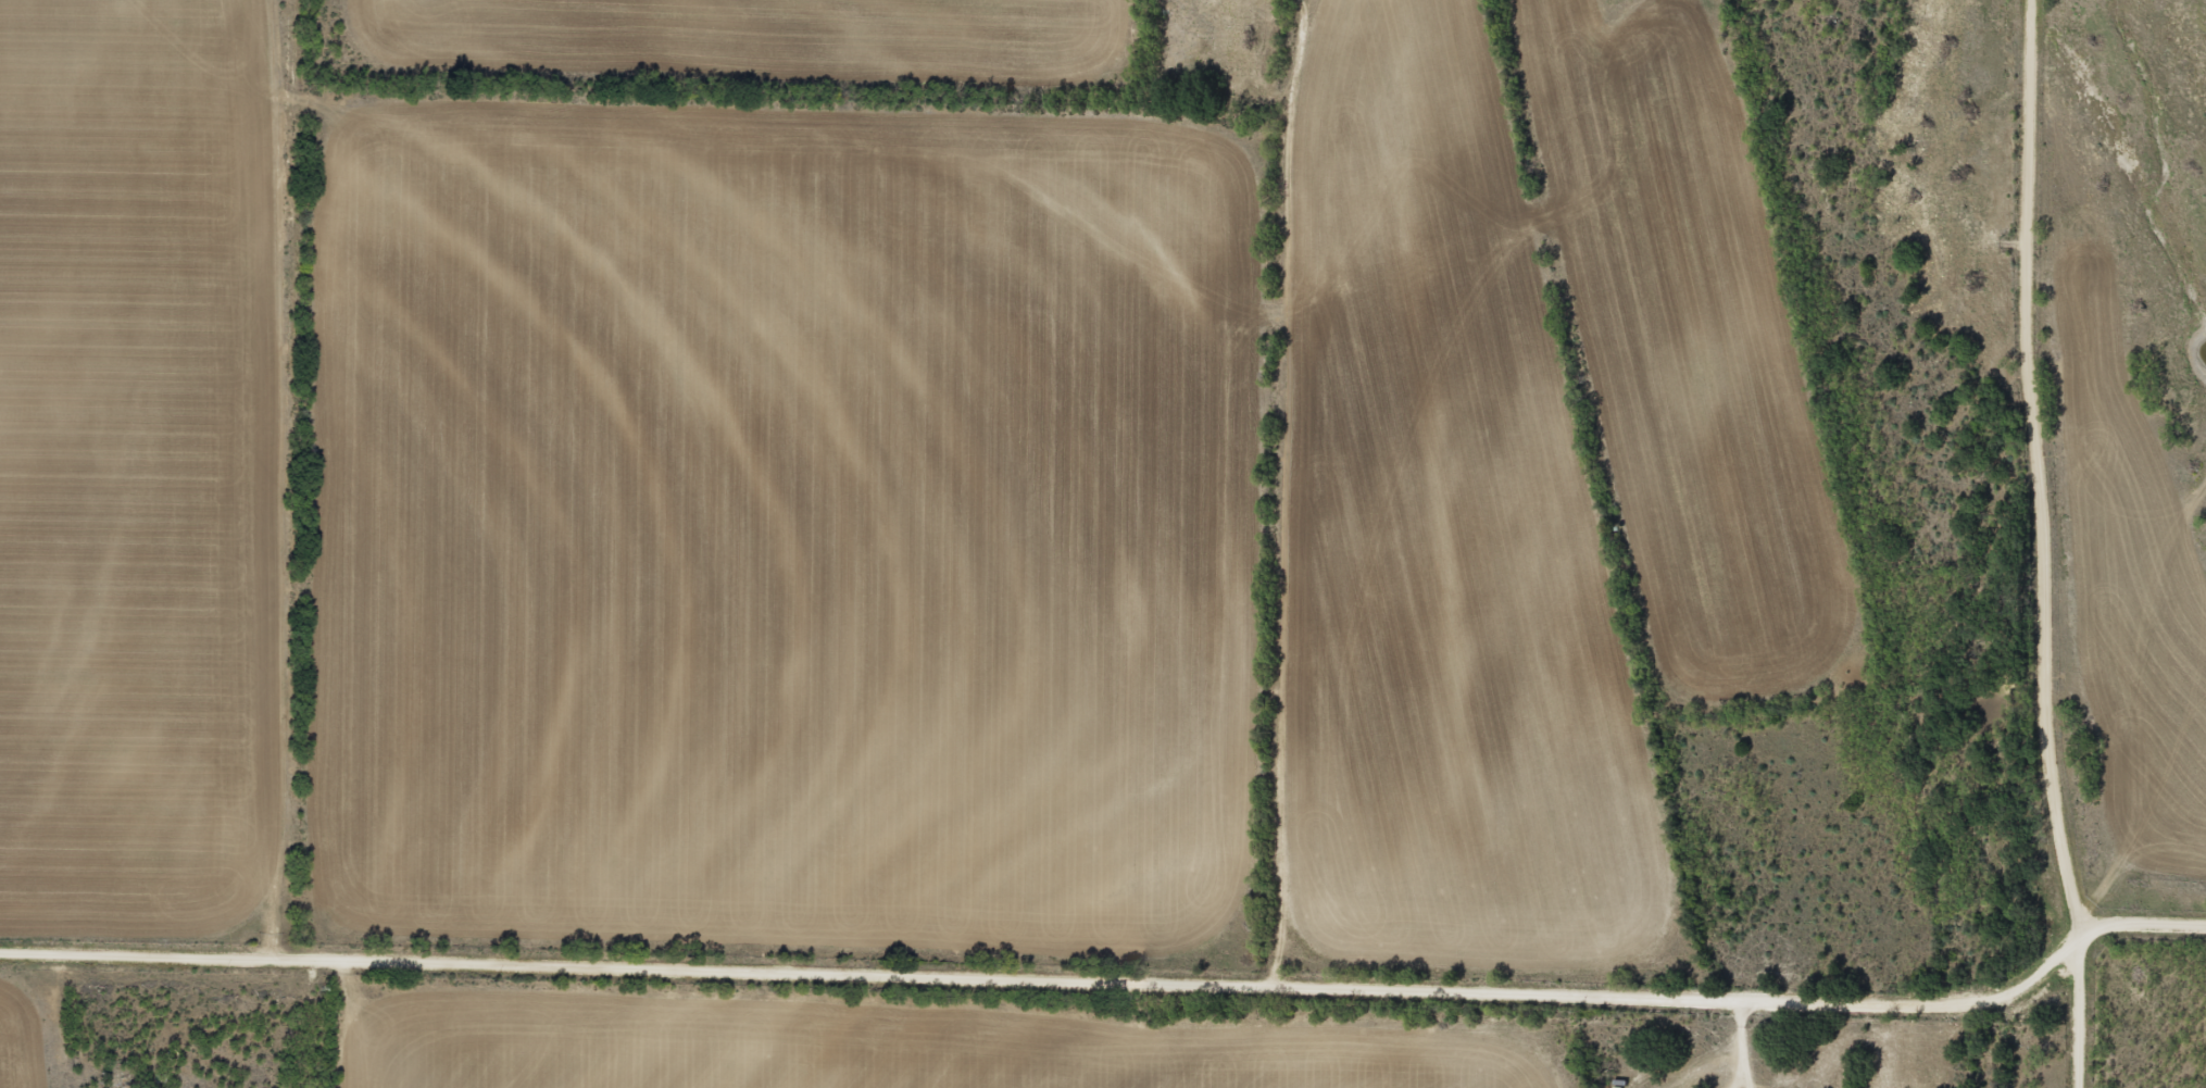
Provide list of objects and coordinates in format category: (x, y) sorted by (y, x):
road: (1855, 171)
road: (2040, 545)
road: (1116, 986)

